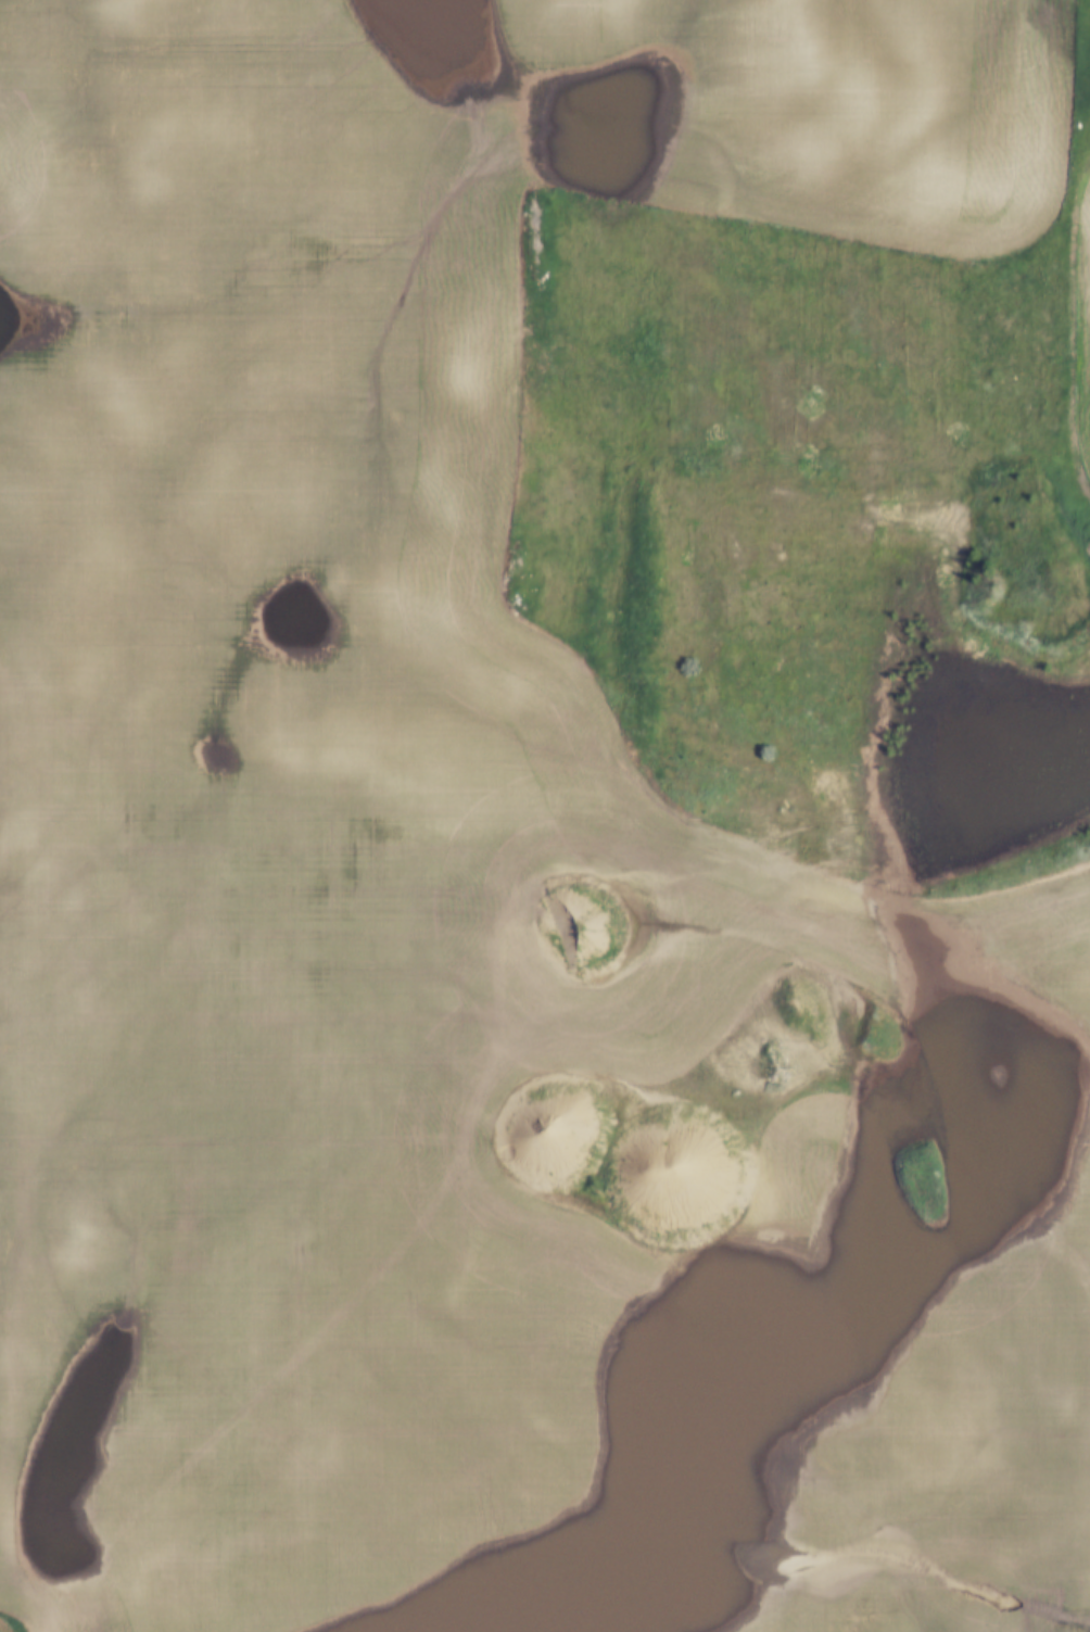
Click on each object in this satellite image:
road: (542, 718)

